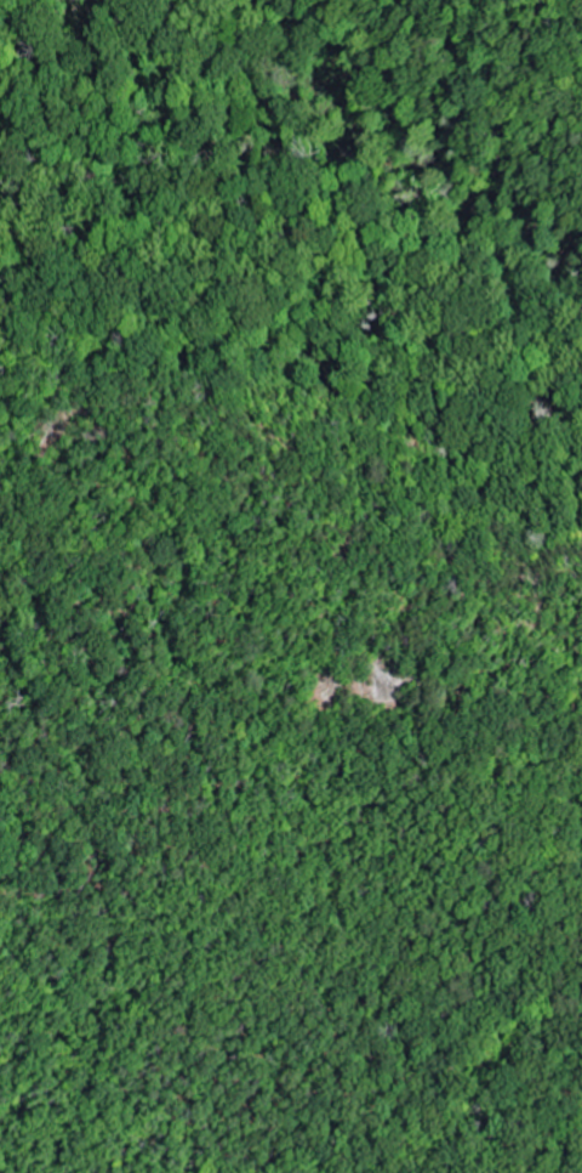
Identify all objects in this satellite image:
road: (23, 52)
road: (1, 280)

